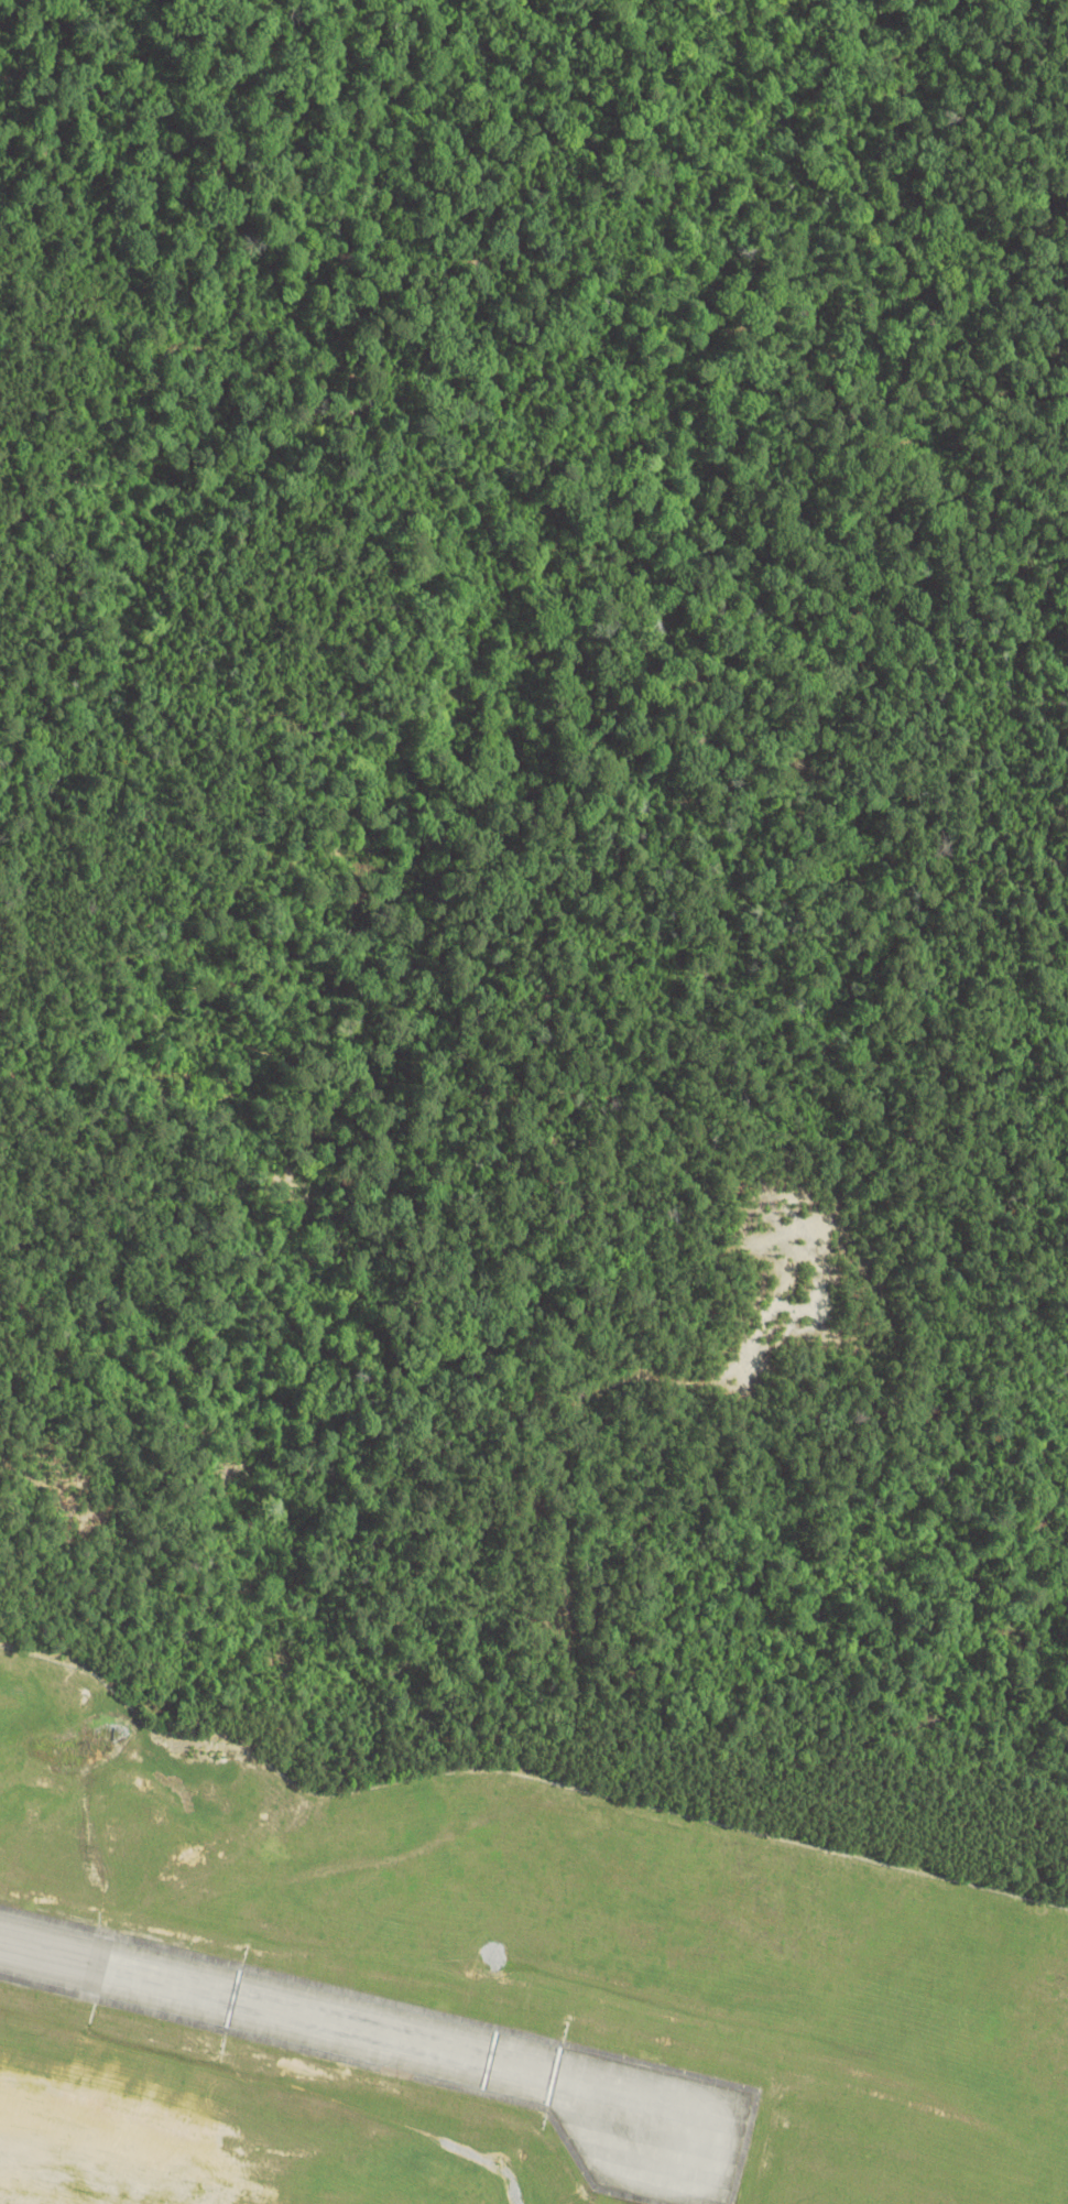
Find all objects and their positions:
airport: (487, 1991)
airport runway: (375, 2033)

